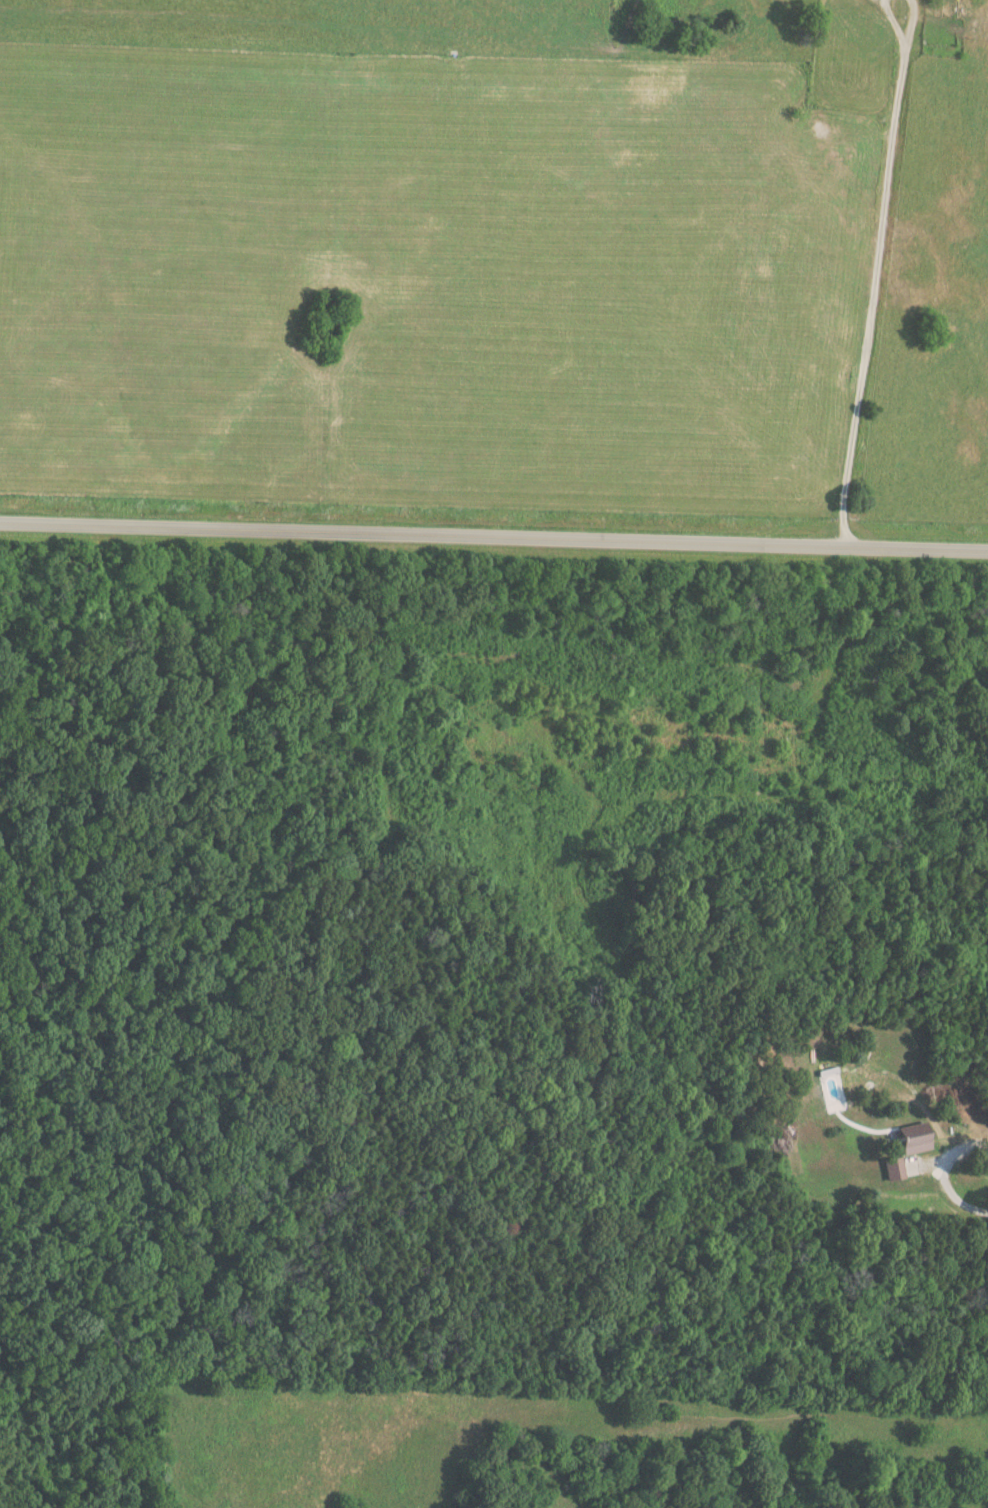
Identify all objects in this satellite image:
building: (947, 8)
road: (893, 14)
road: (906, 14)
road: (871, 287)
road: (493, 536)
building: (912, 1139)
building: (892, 1169)

